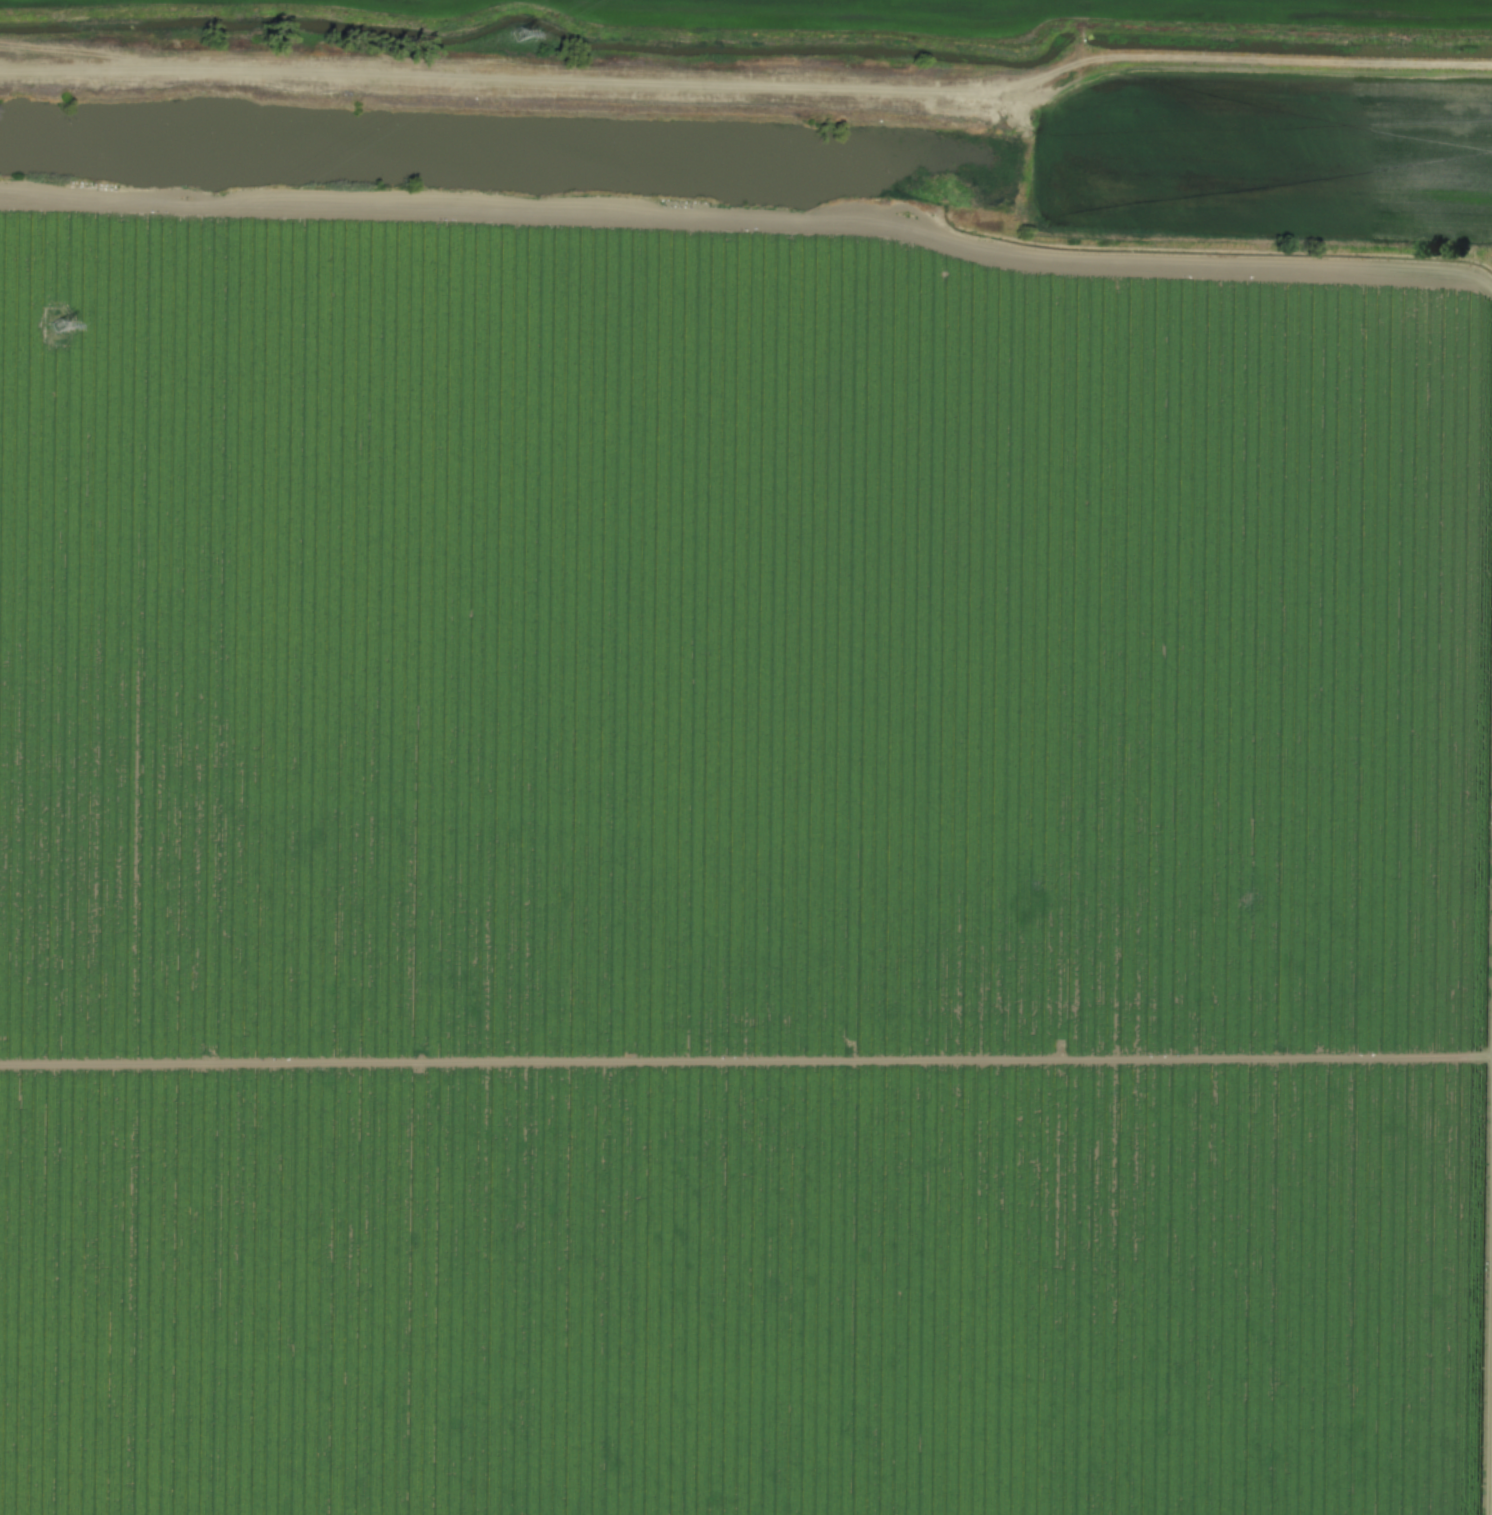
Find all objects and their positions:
power tower: (523, 42)
power tower: (62, 332)

